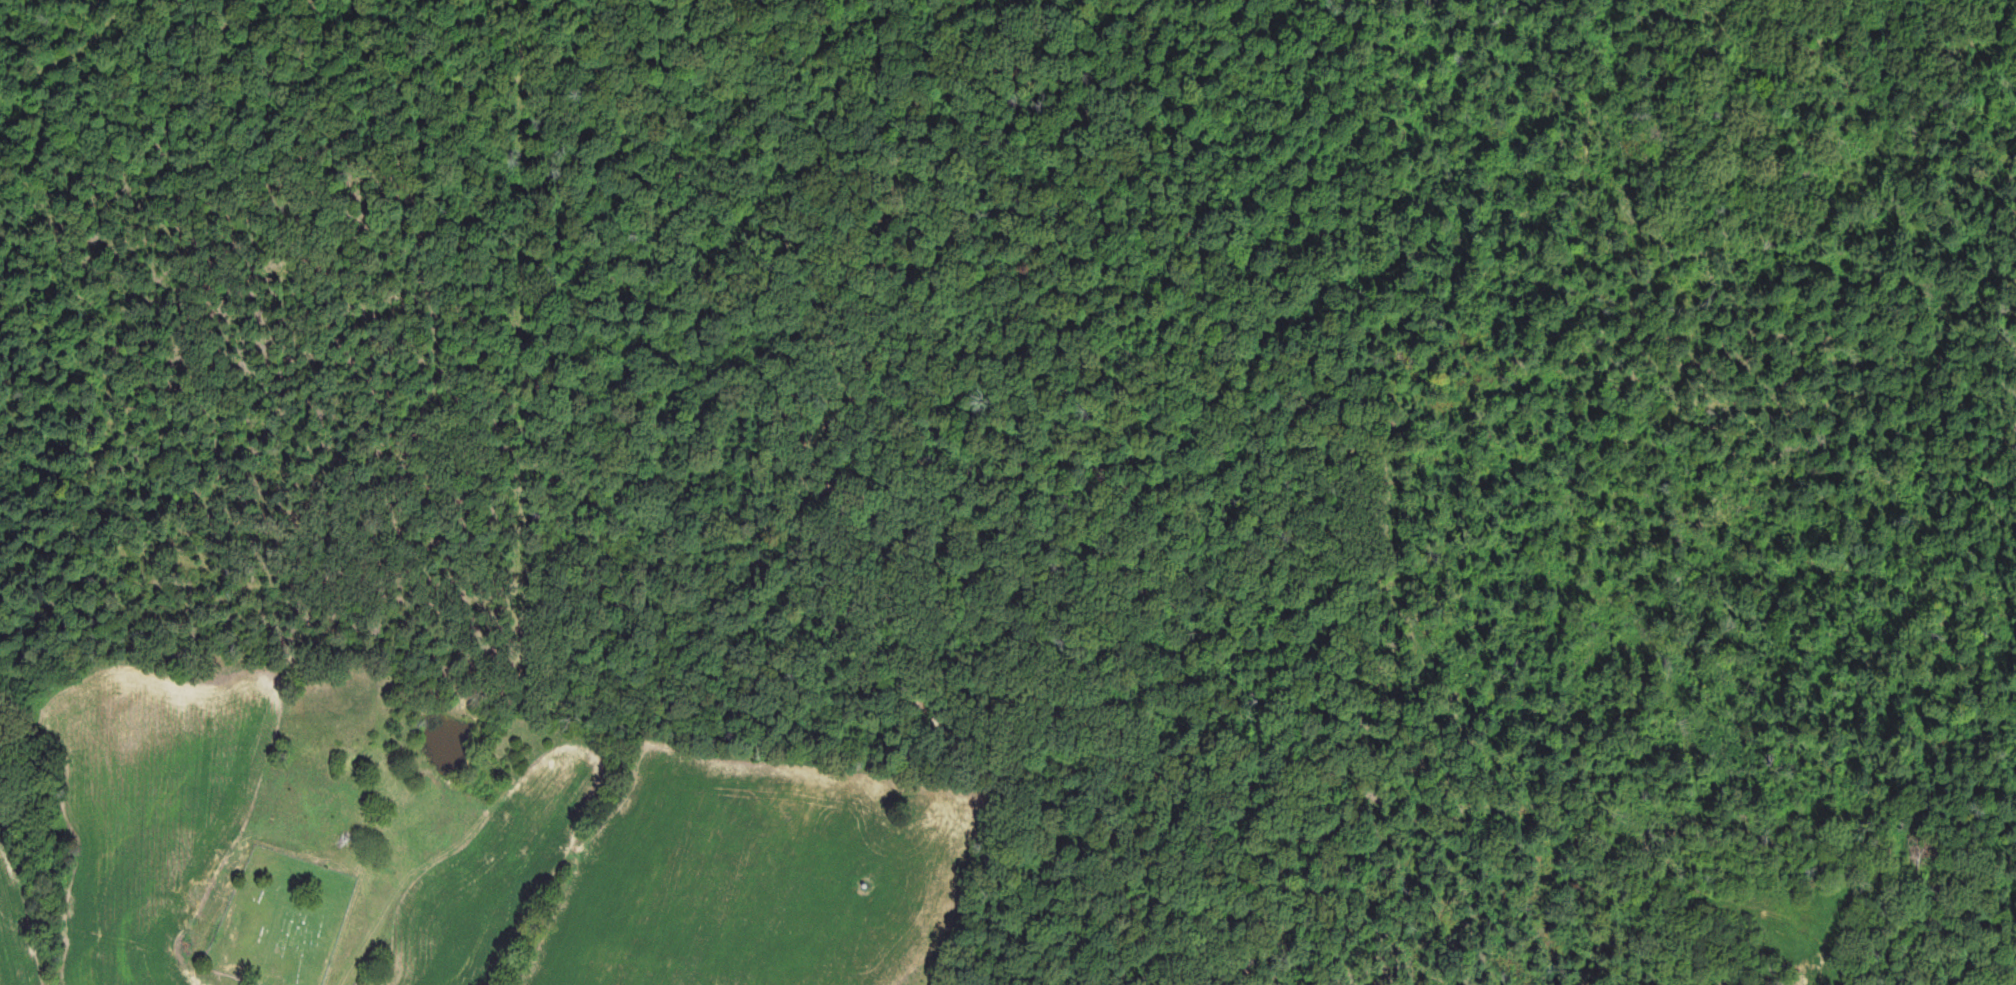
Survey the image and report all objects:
road: (1989, 964)

